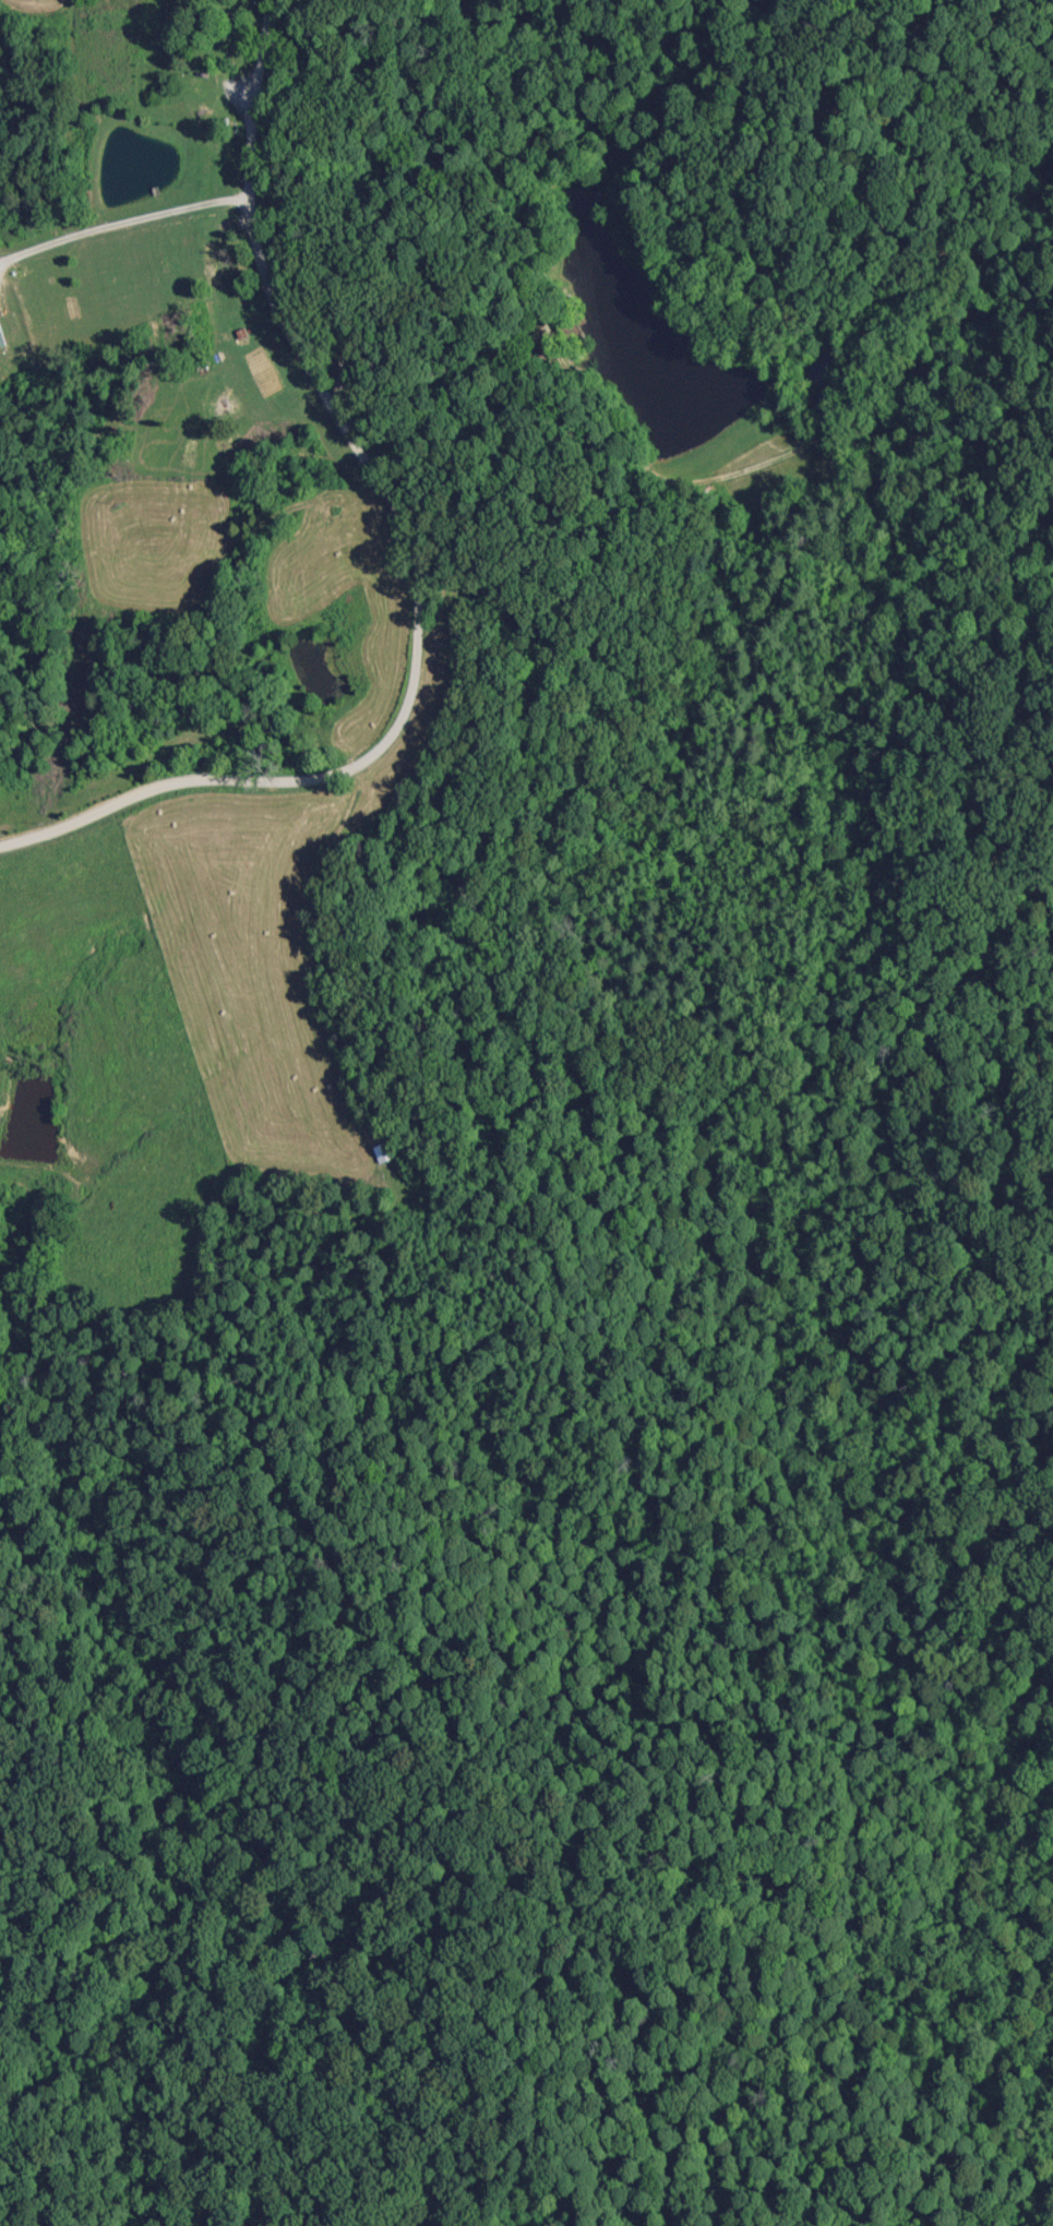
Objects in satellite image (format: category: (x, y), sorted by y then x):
road: (265, 56)
road: (122, 226)
building: (211, 262)
road: (408, 611)
building: (384, 1152)

